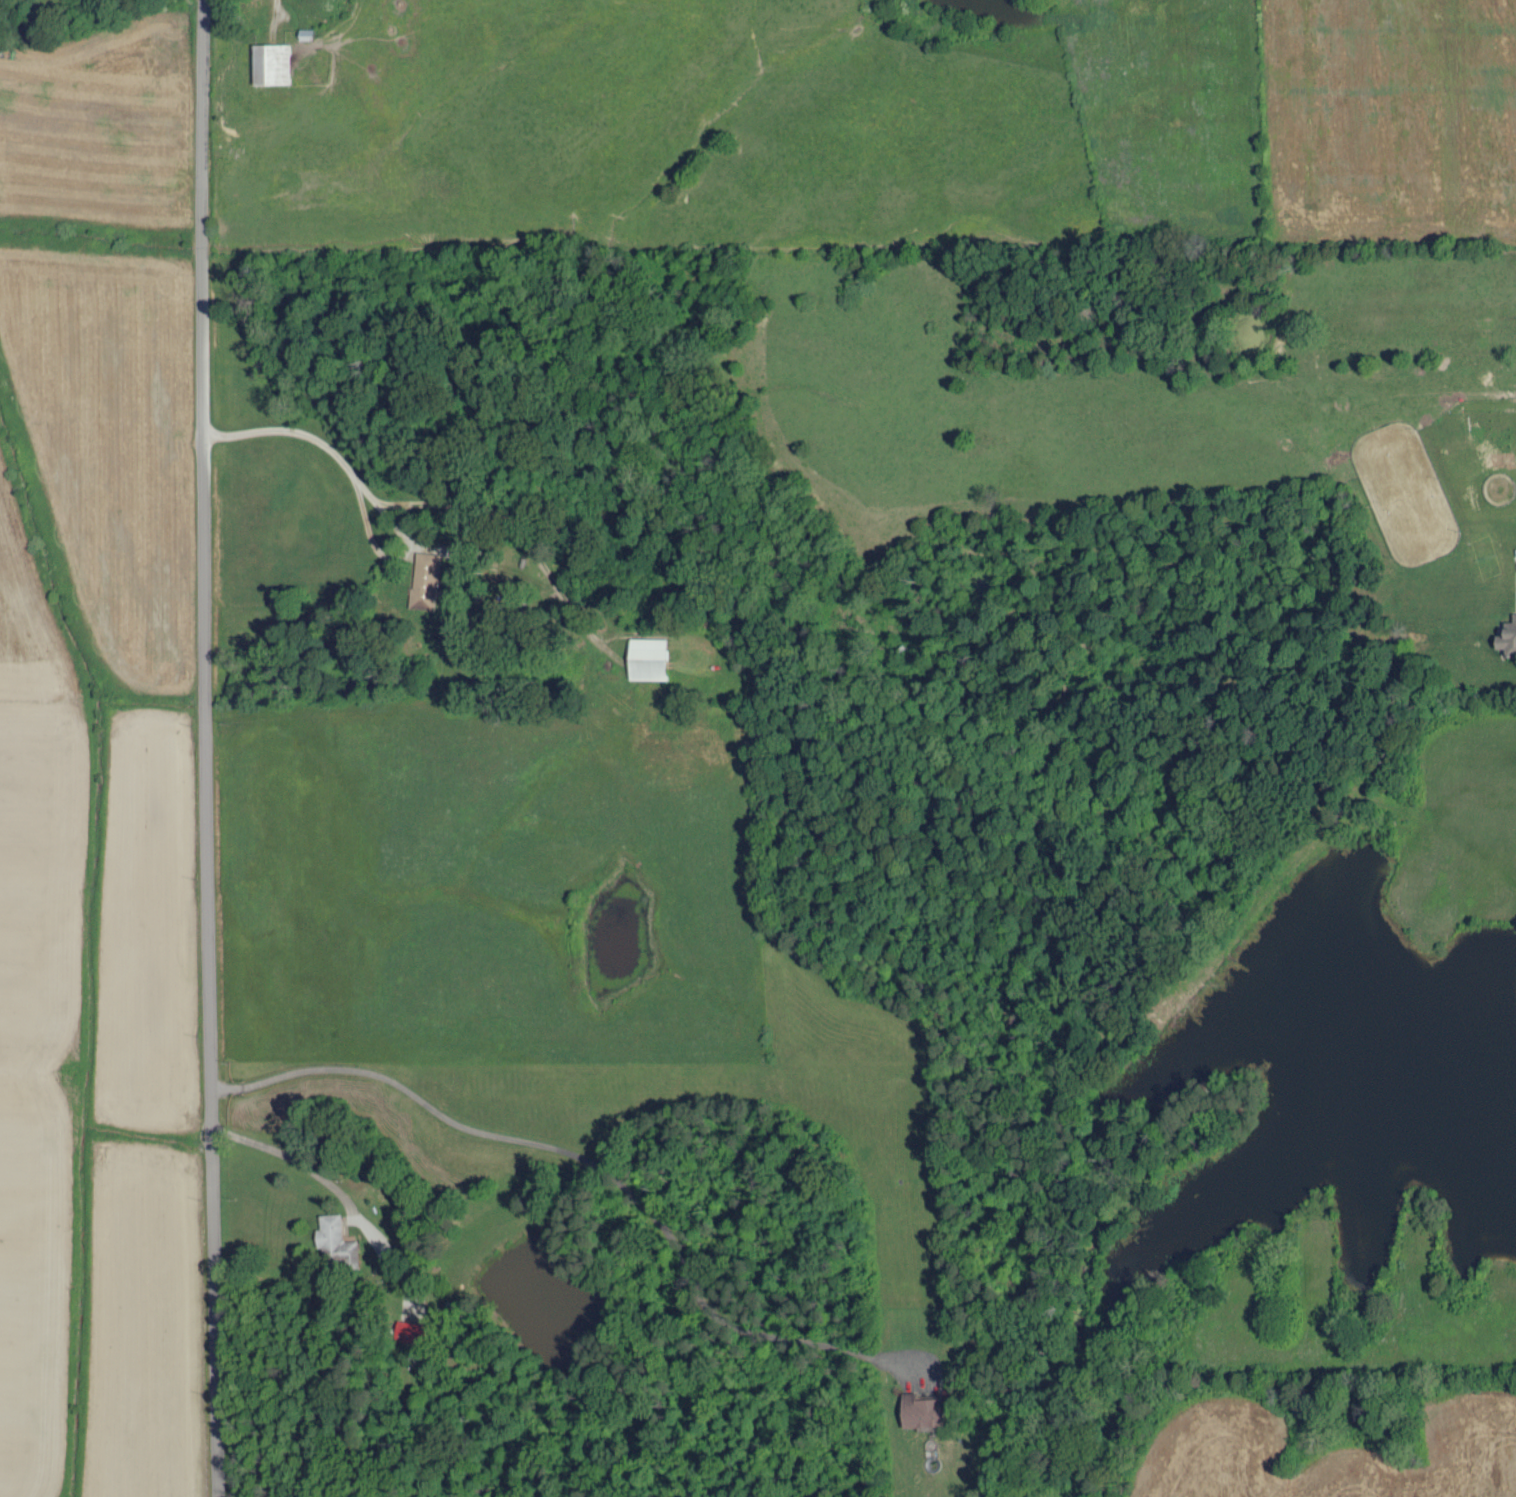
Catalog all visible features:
building: (270, 61)
building: (423, 578)
building: (1507, 635)
building: (646, 656)
road: (200, 748)
building: (333, 1236)
building: (406, 1329)
building: (920, 1407)

